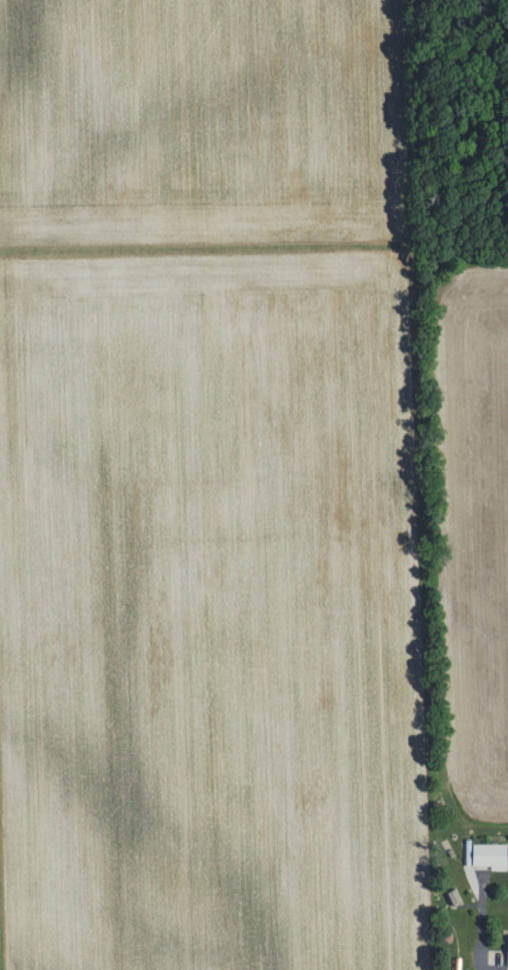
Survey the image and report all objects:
building: (490, 857)
road: (497, 967)

